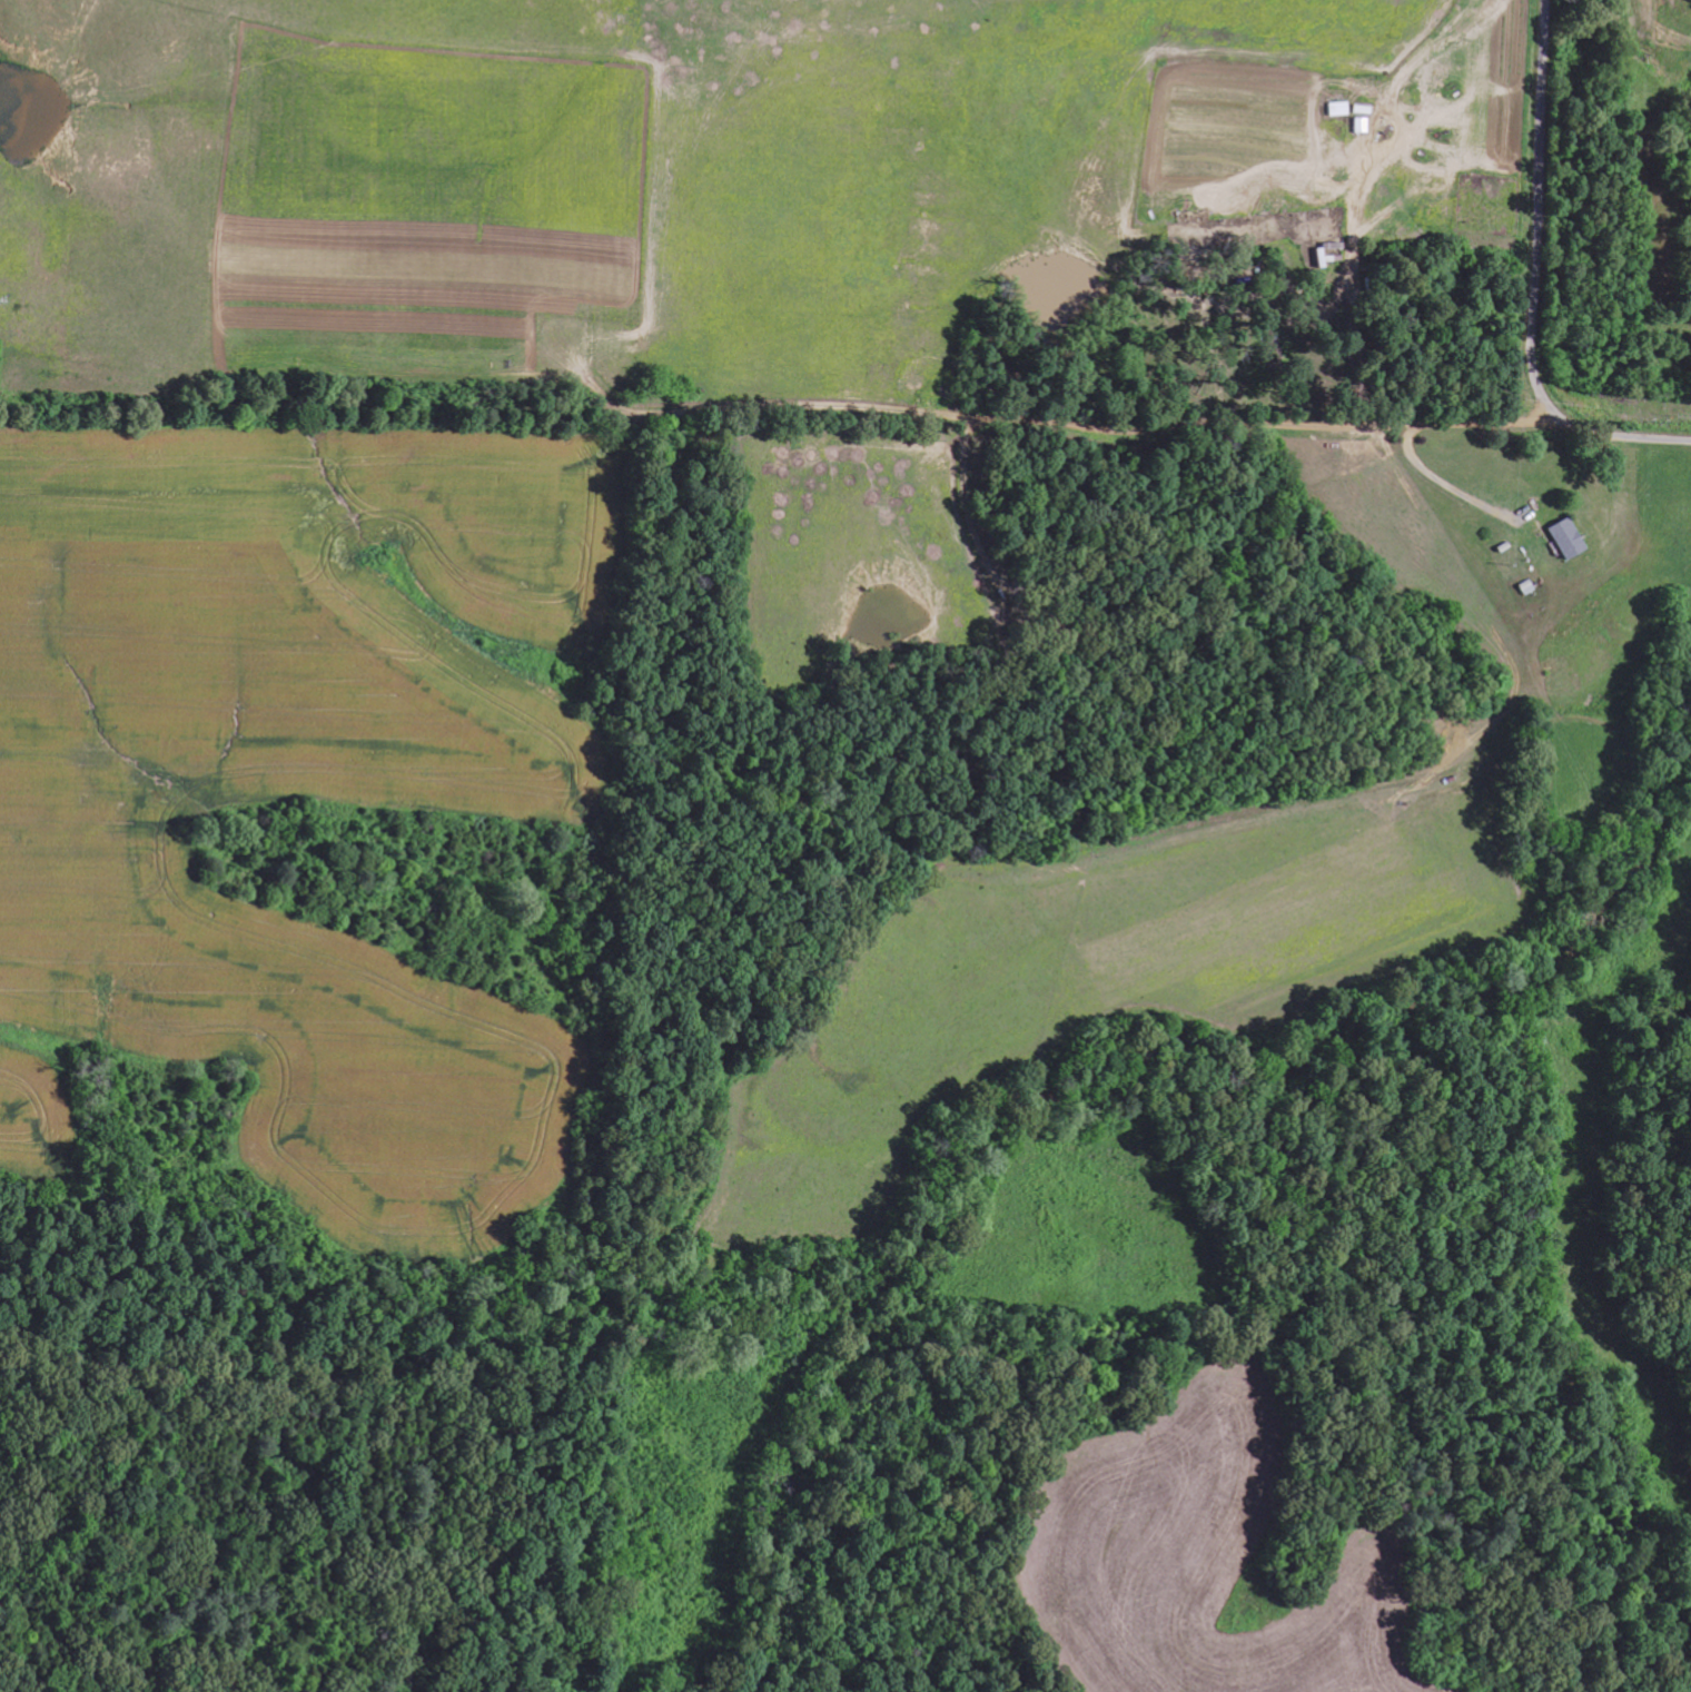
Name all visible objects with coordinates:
building: (1336, 110)
road: (1540, 276)
building: (1569, 540)

